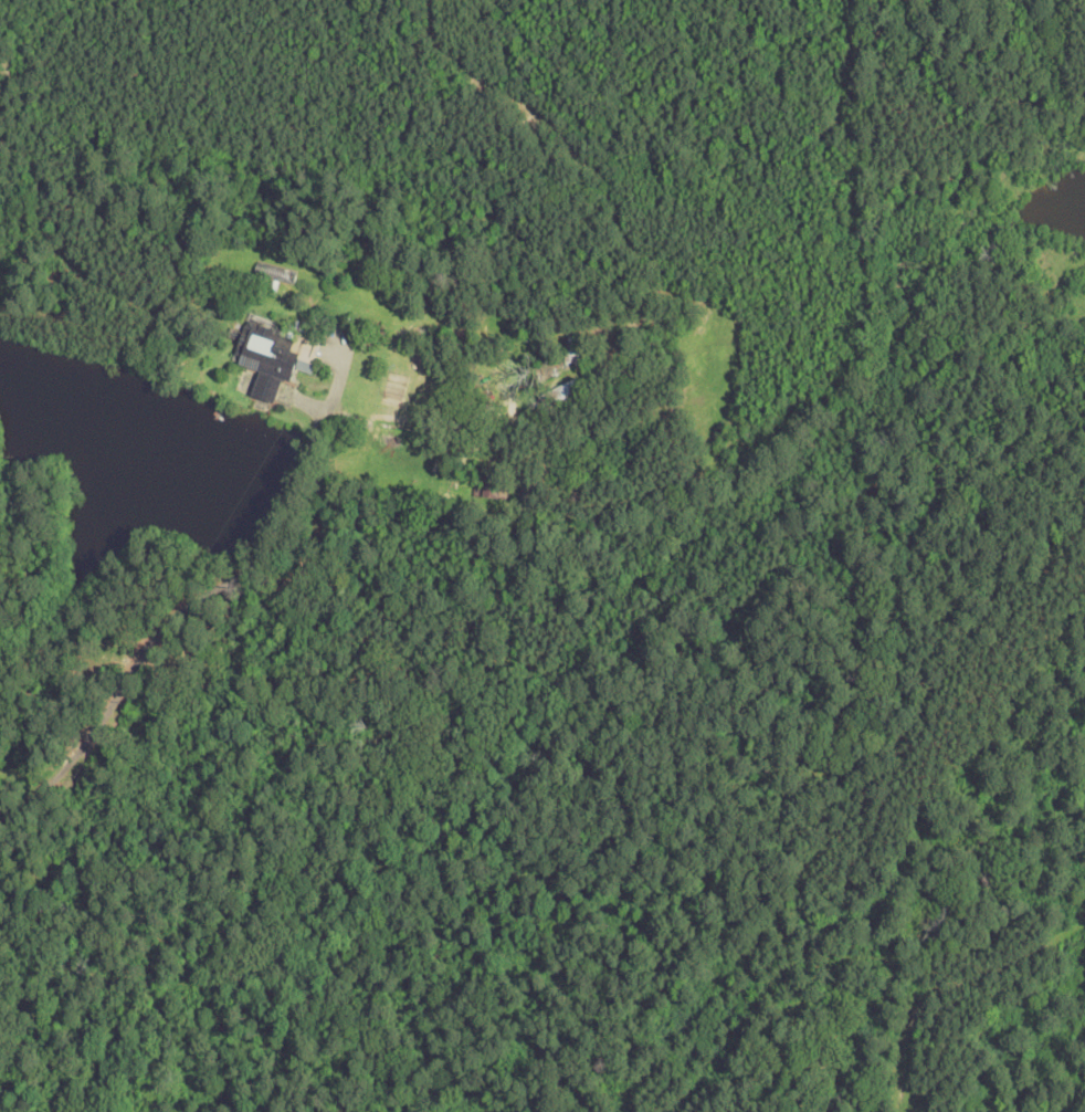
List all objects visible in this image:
building: (579, 354)
building: (268, 358)
building: (568, 392)
road: (211, 597)

